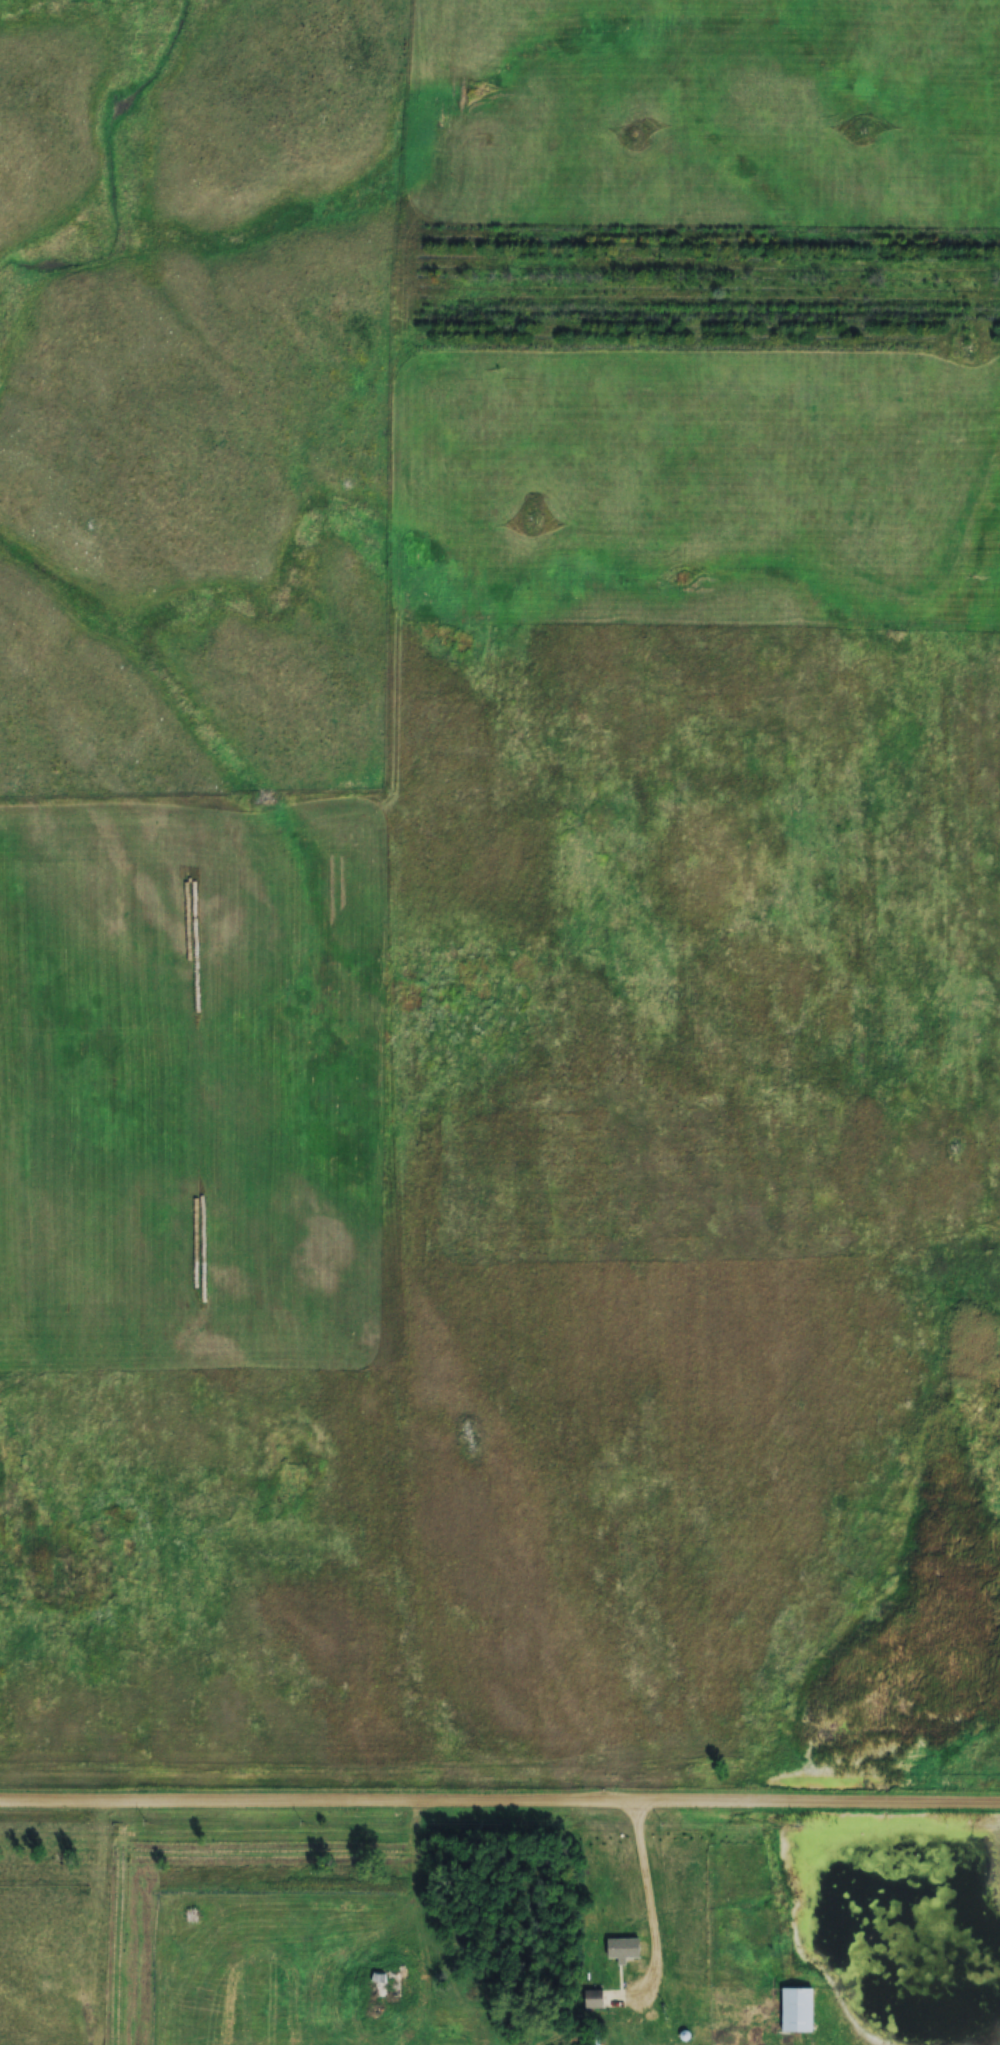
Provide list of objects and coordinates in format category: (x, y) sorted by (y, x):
road: (500, 1799)
road: (650, 1915)
building: (622, 1948)
building: (386, 1984)
building: (592, 1997)
building: (796, 2010)

